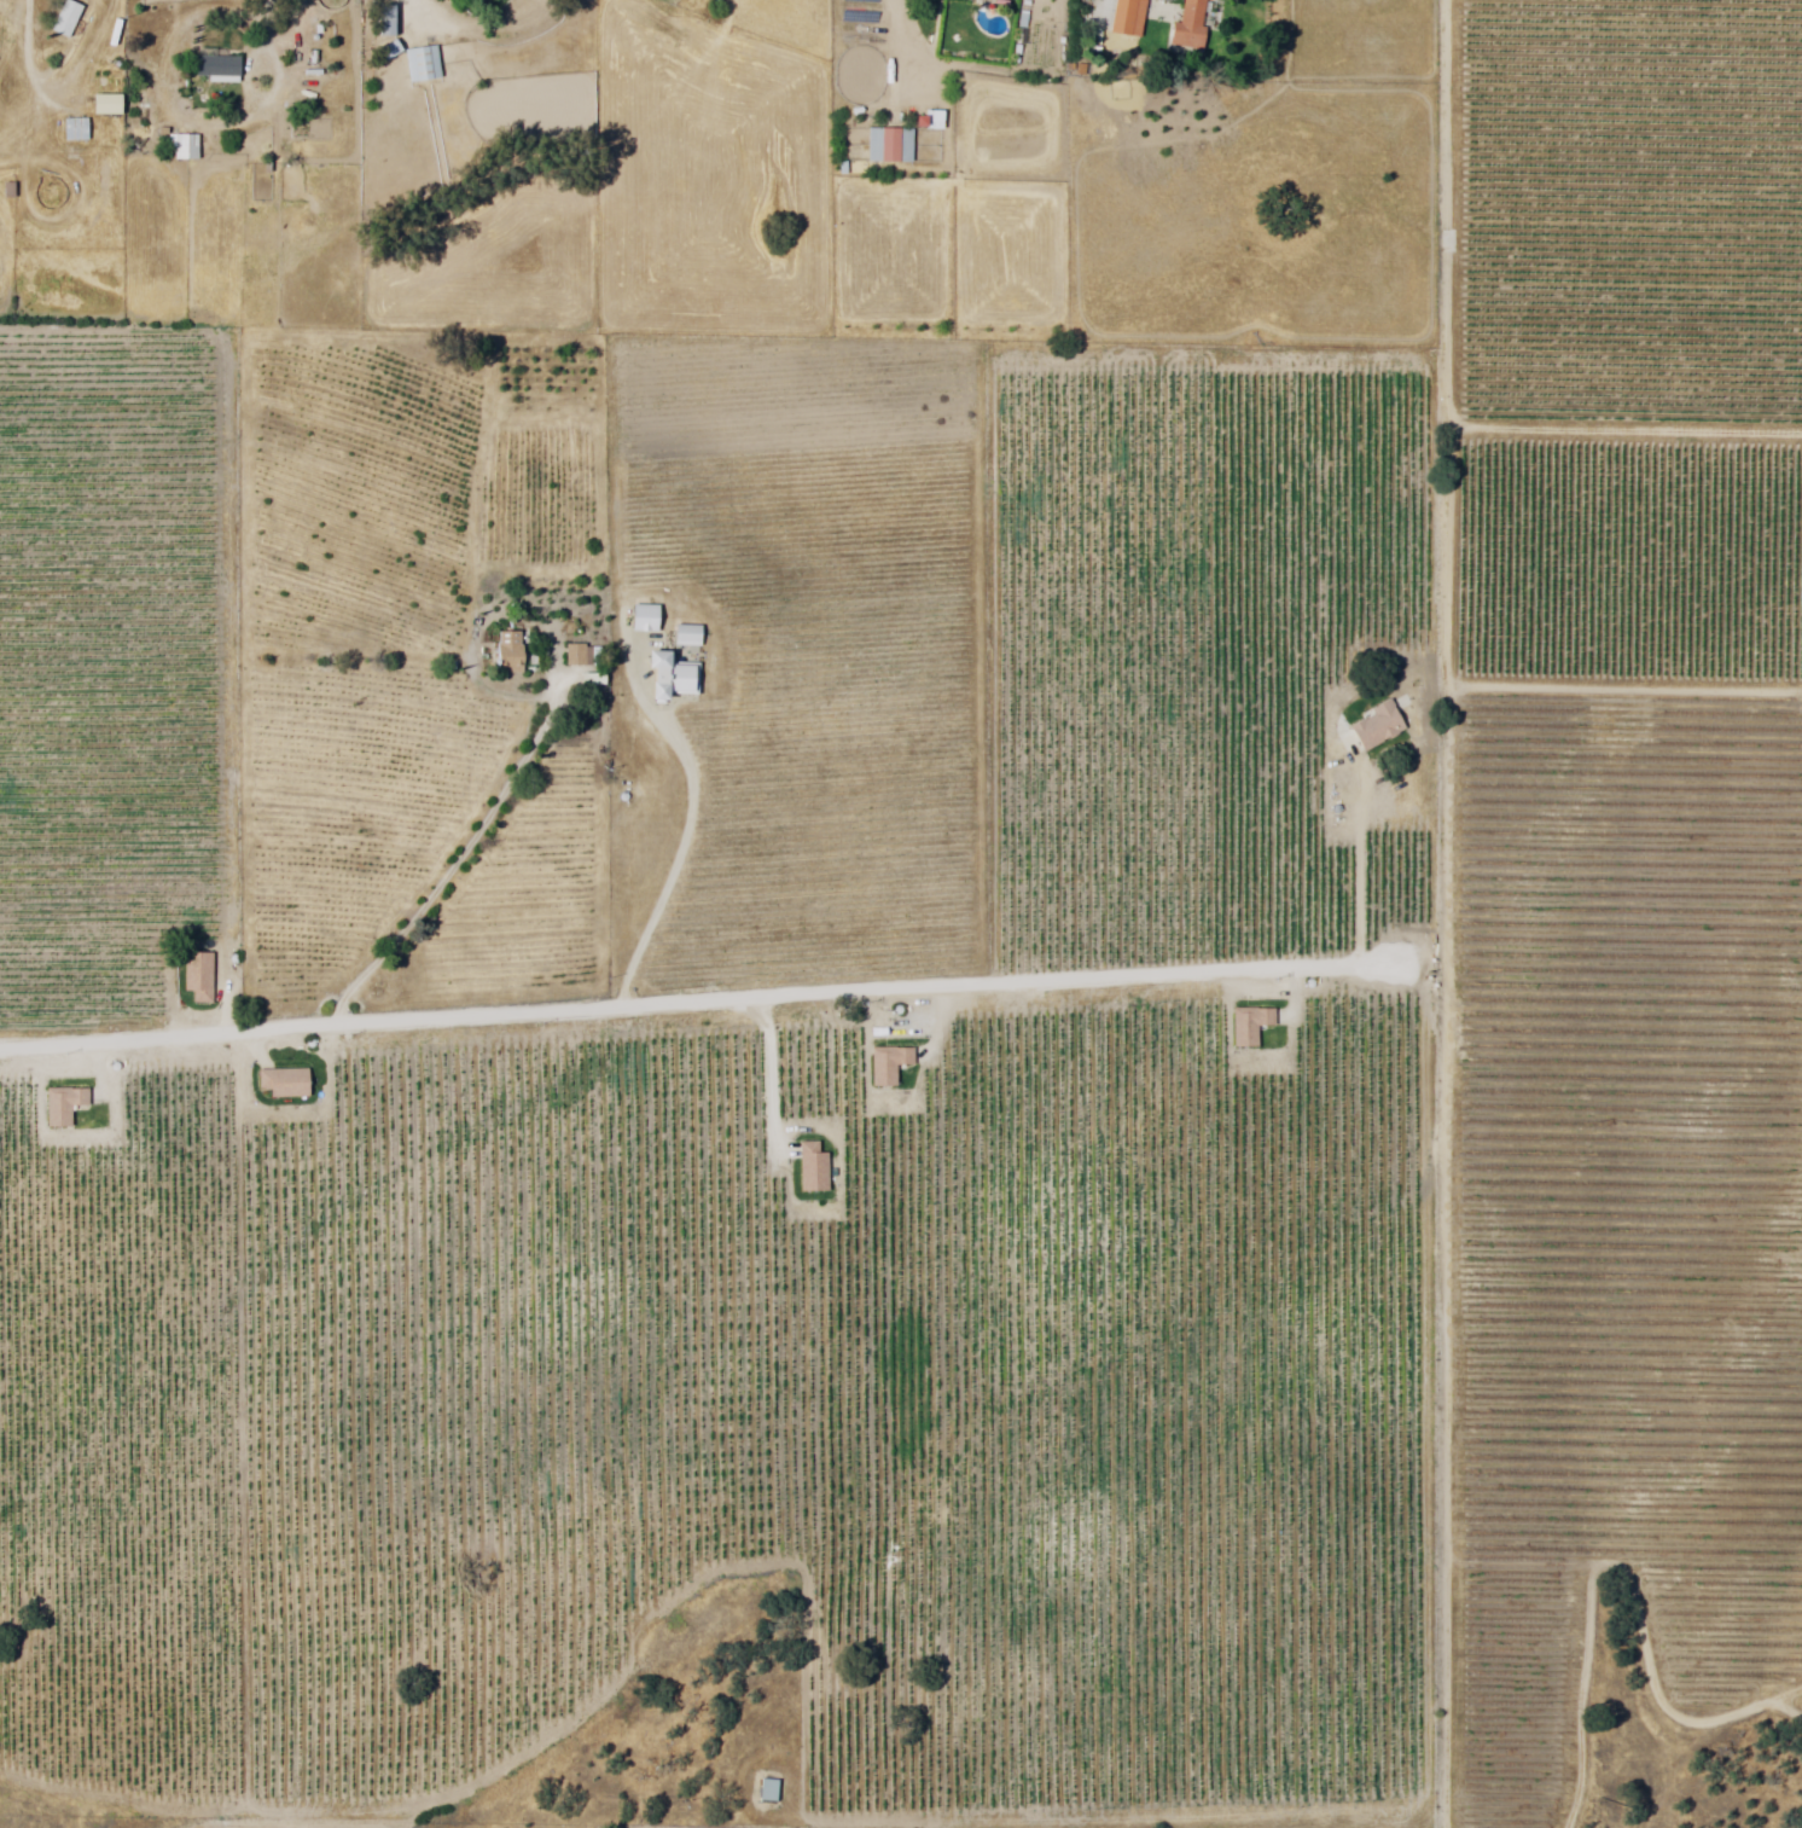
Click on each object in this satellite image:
building: (969, 0)
road: (263, 12)
building: (68, 18)
building: (1130, 18)
building: (388, 21)
building: (1191, 27)
road: (30, 51)
building: (389, 52)
building: (423, 64)
building: (219, 69)
building: (98, 89)
building: (76, 130)
building: (891, 144)
building: (186, 146)
building: (647, 620)
building: (690, 638)
building: (510, 656)
building: (577, 657)
building: (674, 678)
building: (593, 681)
building: (1379, 727)
road: (466, 854)
road: (681, 861)
road: (1364, 864)
building: (200, 976)
road: (709, 1002)
building: (1252, 1023)
building: (891, 1063)
building: (286, 1083)
building: (65, 1105)
building: (814, 1167)
building: (769, 1791)

